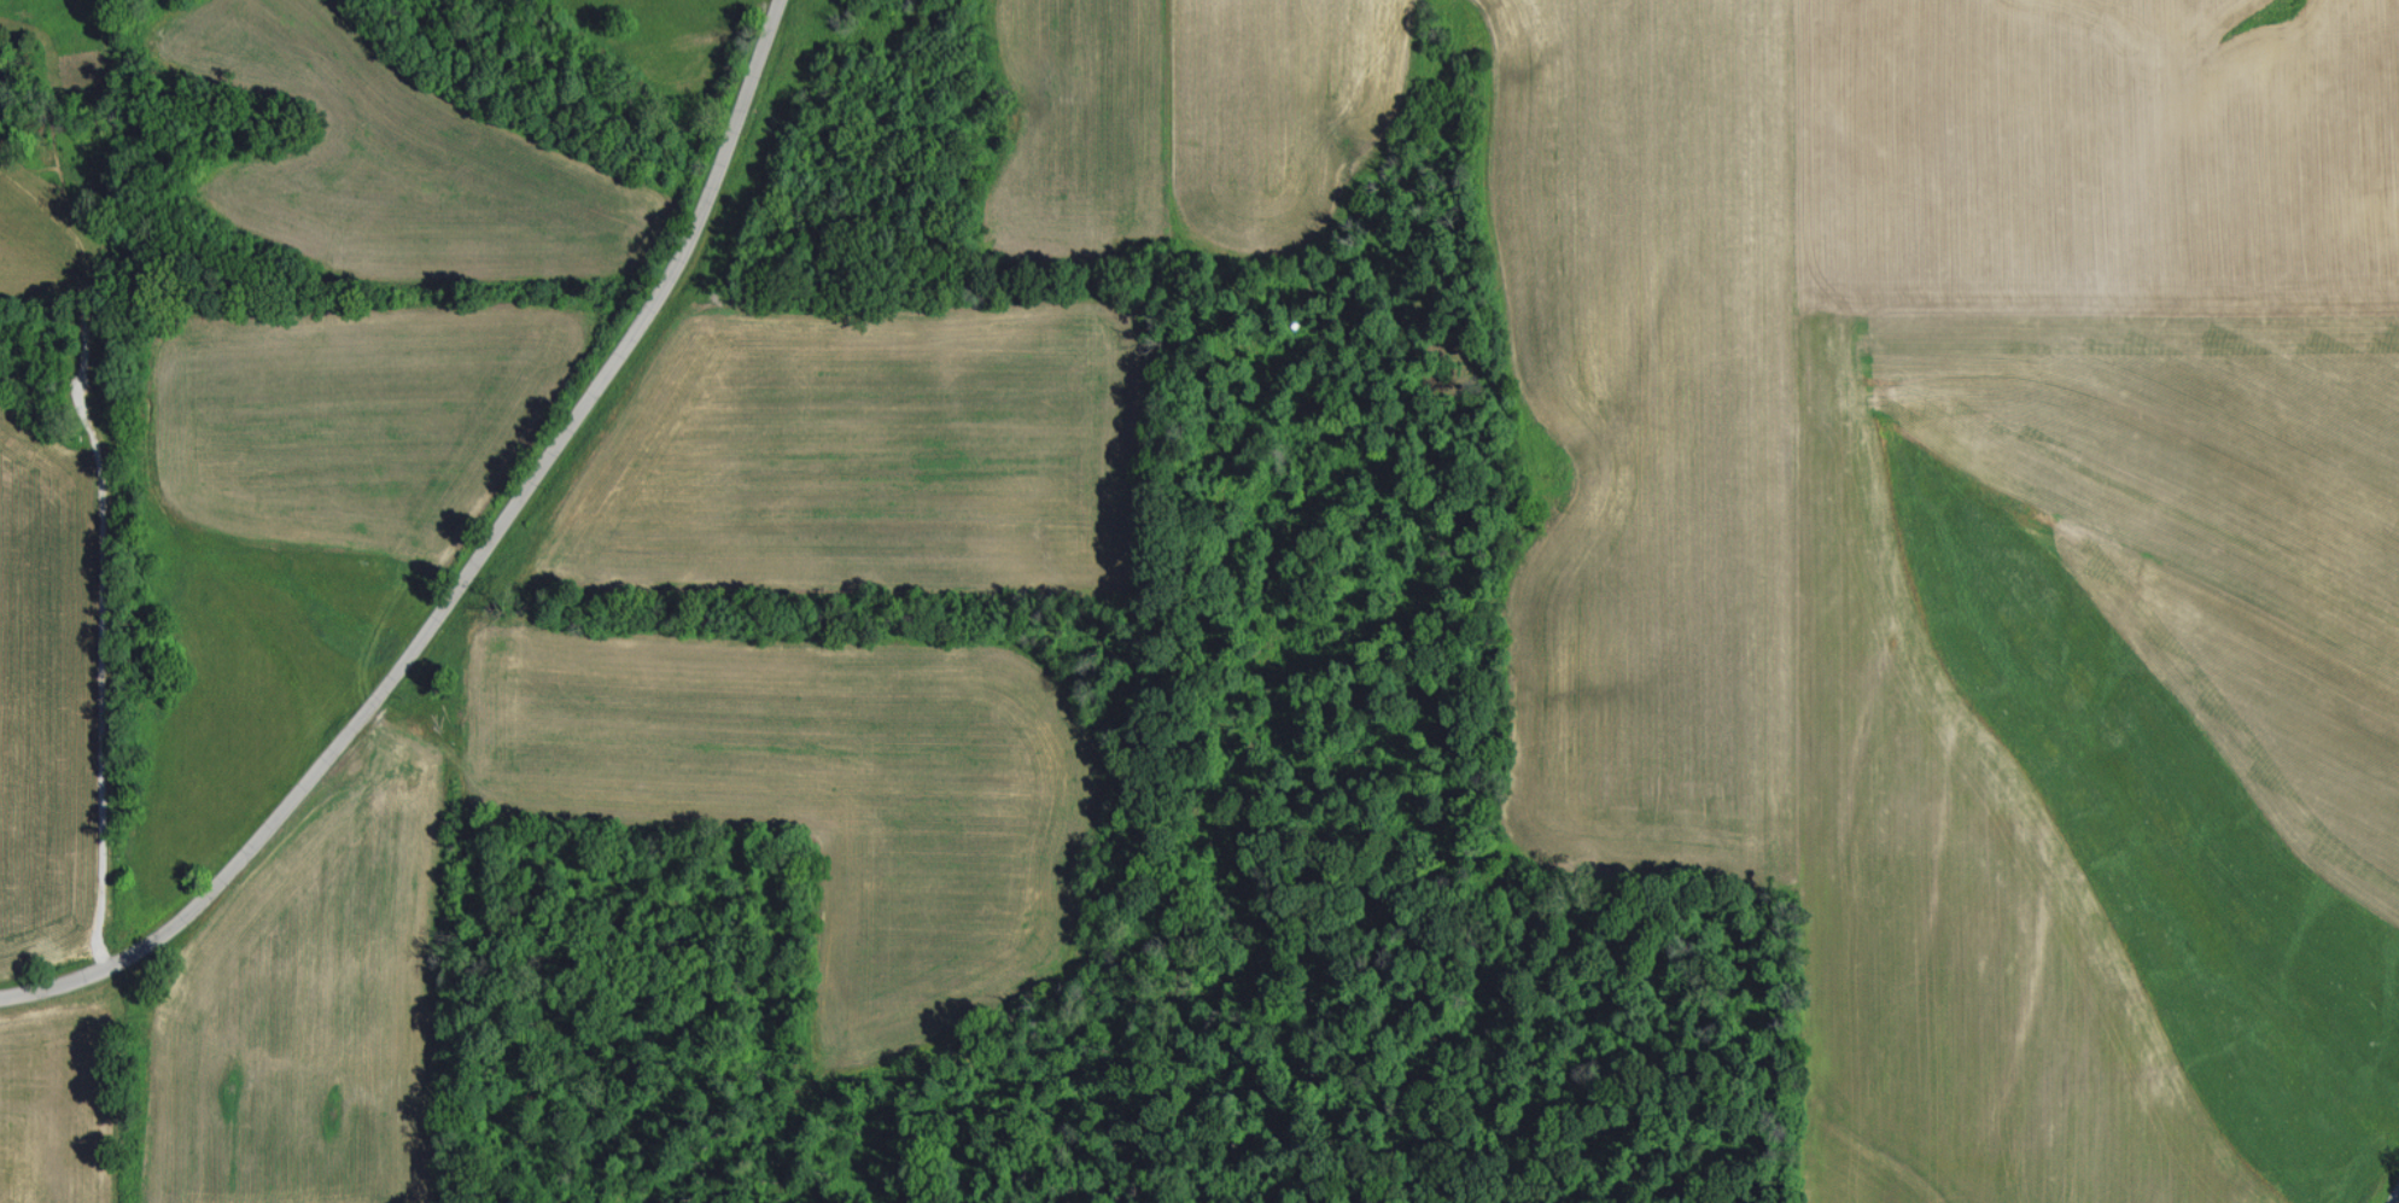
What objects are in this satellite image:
road: (468, 566)
road: (2389, 1189)

